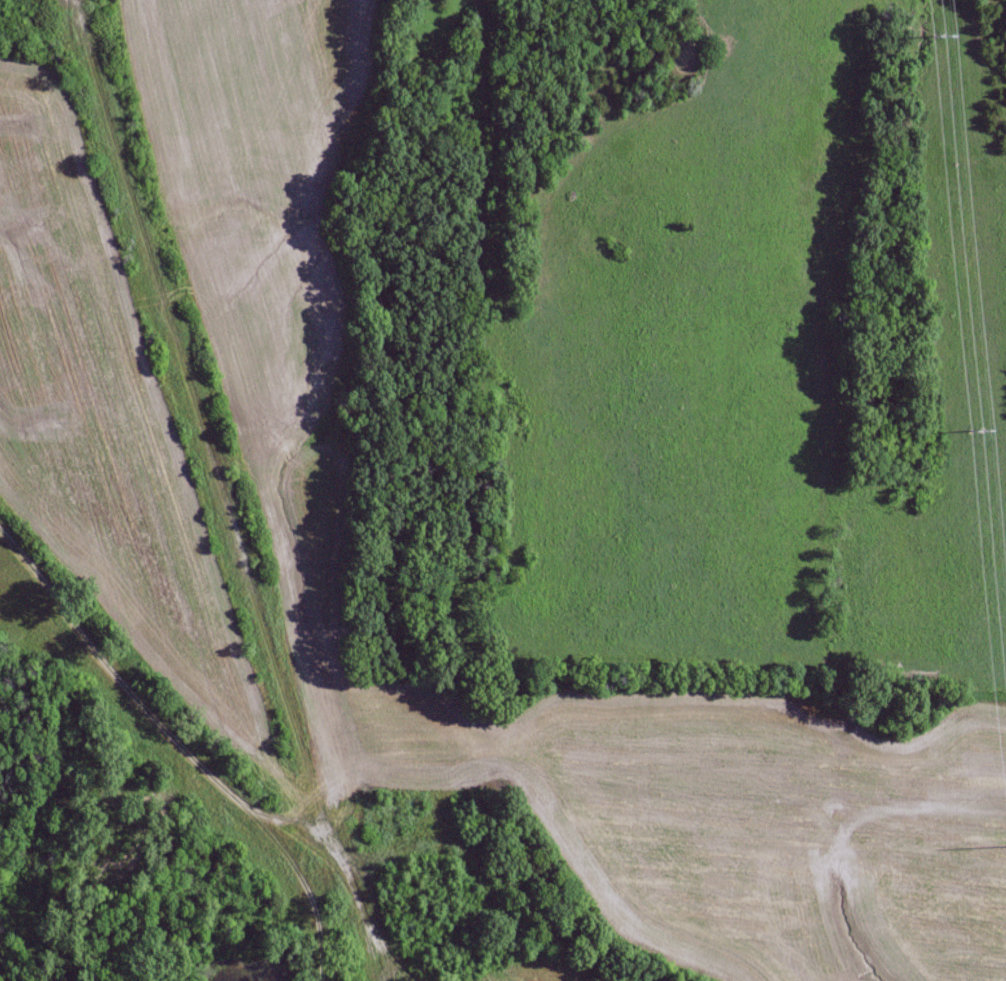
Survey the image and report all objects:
power tower: (931, 39)
power tower: (965, 433)
road: (214, 492)
road: (198, 757)
power tower: (1003, 842)

